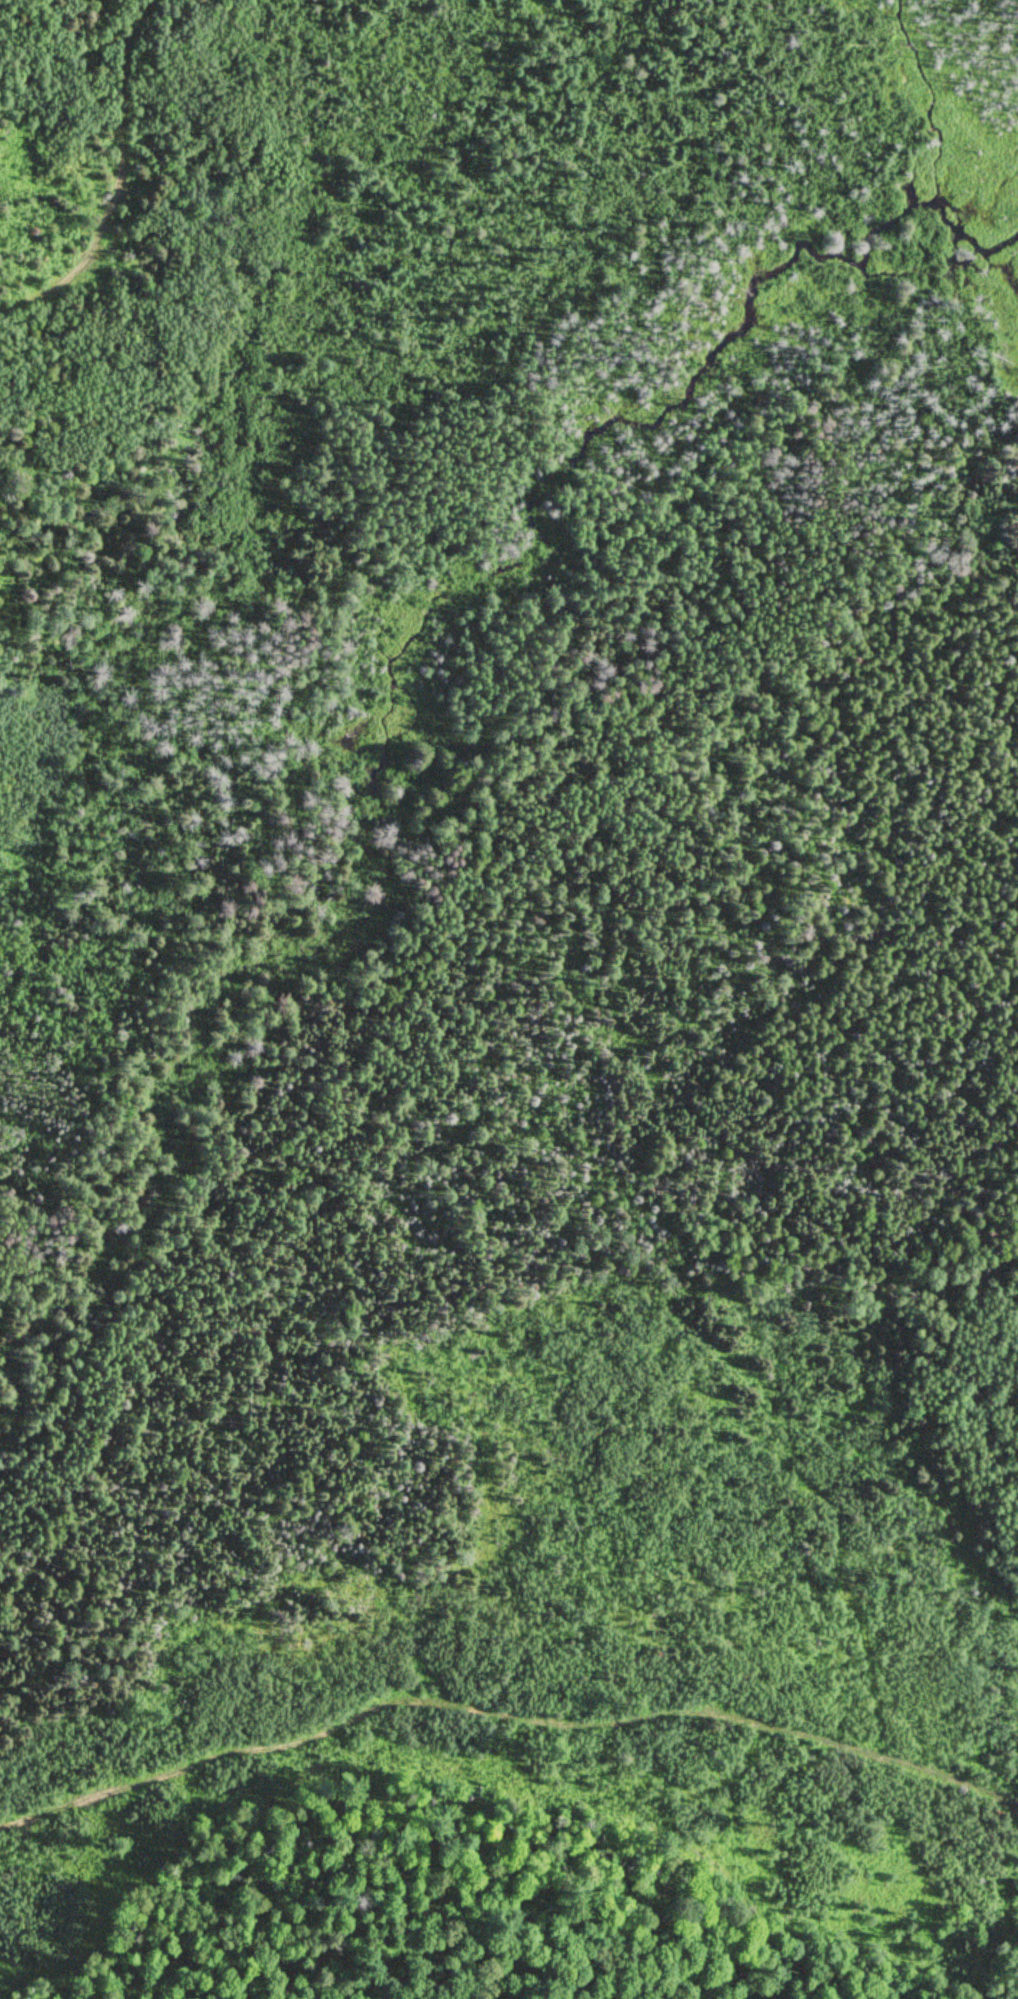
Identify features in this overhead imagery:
road: (508, 1716)

